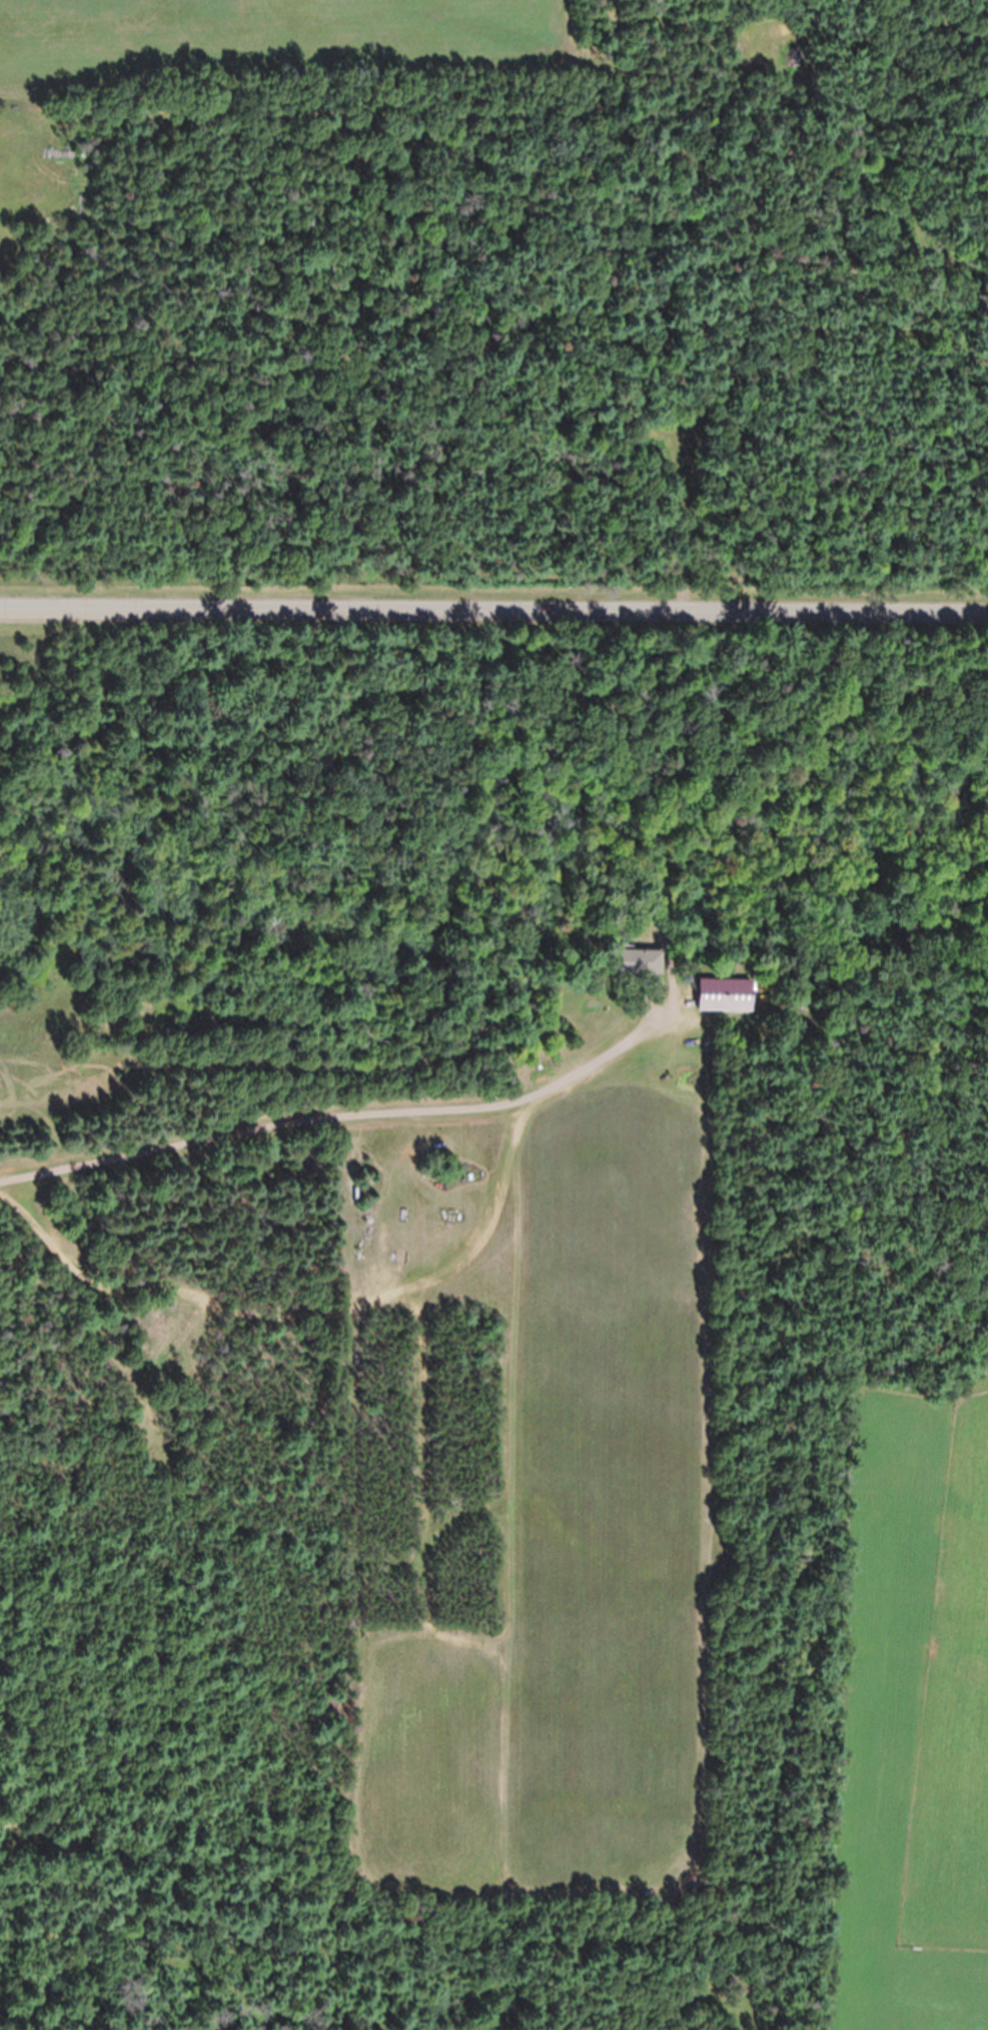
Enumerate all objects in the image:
crop: (269, 38)
road: (494, 611)
building: (636, 962)
building: (724, 995)
building: (954, 2014)

